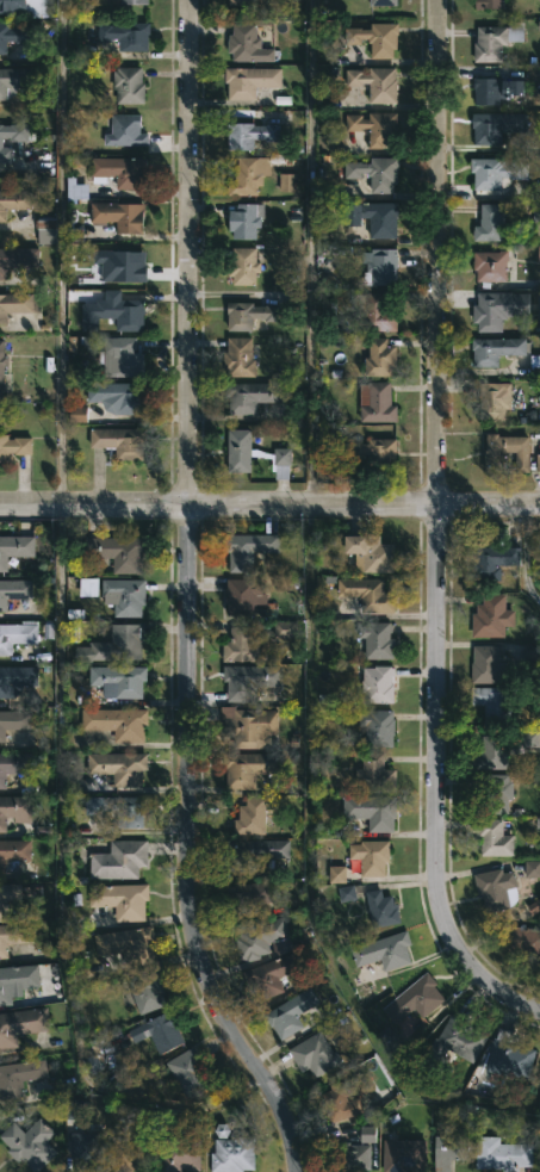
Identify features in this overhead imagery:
building: (134, 1)
building: (241, 2)
building: (383, 2)
building: (488, 4)
building: (20, 6)
building: (13, 35)
building: (515, 35)
building: (125, 36)
building: (375, 37)
building: (489, 42)
building: (247, 43)
building: (13, 80)
building: (249, 80)
building: (374, 82)
building: (128, 85)
building: (495, 88)
building: (497, 125)
building: (374, 126)
building: (125, 130)
building: (249, 134)
building: (14, 136)
building: (119, 170)
building: (374, 172)
building: (495, 172)
building: (249, 174)
building: (286, 182)
building: (75, 190)
building: (535, 191)
building: (15, 200)
building: (535, 211)
building: (118, 215)
building: (373, 217)
building: (244, 219)
building: (489, 223)
building: (45, 230)
road: (62, 253)
building: (538, 254)
building: (17, 258)
building: (120, 265)
building: (242, 266)
building: (490, 266)
building: (380, 267)
building: (18, 303)
building: (491, 310)
building: (111, 312)
building: (247, 314)
building: (377, 314)
building: (495, 349)
building: (119, 356)
building: (238, 356)
building: (379, 358)
building: (1, 366)
building: (117, 396)
building: (252, 396)
building: (494, 401)
building: (375, 402)
building: (76, 415)
building: (119, 441)
building: (13, 447)
building: (237, 449)
building: (370, 451)
building: (494, 461)
building: (538, 463)
building: (280, 464)
road: (269, 507)
road: (435, 532)
building: (14, 547)
building: (246, 550)
building: (117, 553)
building: (370, 553)
road: (306, 554)
building: (494, 562)
building: (13, 590)
building: (367, 594)
building: (124, 596)
building: (243, 596)
road: (187, 597)
building: (491, 616)
building: (284, 630)
building: (15, 634)
building: (377, 640)
building: (119, 643)
building: (242, 645)
building: (532, 652)
building: (486, 665)
building: (15, 678)
building: (118, 681)
building: (248, 681)
building: (377, 684)
building: (491, 703)
building: (13, 721)
building: (116, 723)
building: (248, 726)
building: (375, 728)
building: (528, 738)
building: (491, 754)
building: (14, 764)
building: (119, 767)
building: (248, 768)
building: (373, 774)
building: (495, 792)
building: (14, 810)
building: (117, 810)
building: (371, 811)
building: (254, 816)
building: (491, 837)
building: (13, 851)
building: (250, 852)
building: (370, 857)
building: (118, 860)
building: (532, 869)
building: (336, 874)
building: (496, 889)
building: (346, 893)
building: (253, 894)
building: (7, 898)
building: (125, 901)
building: (381, 910)
building: (14, 936)
building: (259, 938)
building: (521, 942)
building: (128, 945)
building: (384, 951)
building: (271, 975)
building: (15, 980)
building: (145, 991)
building: (414, 999)
building: (290, 1013)
building: (20, 1025)
building: (157, 1033)
building: (453, 1043)
building: (314, 1055)
building: (509, 1058)
building: (187, 1073)
building: (19, 1077)
building: (343, 1098)
building: (366, 1134)
building: (29, 1145)
building: (88, 1149)
building: (448, 1151)
building: (499, 1154)
building: (179, 1155)
building: (231, 1155)
building: (403, 1155)
building: (129, 1157)
building: (349, 1157)

